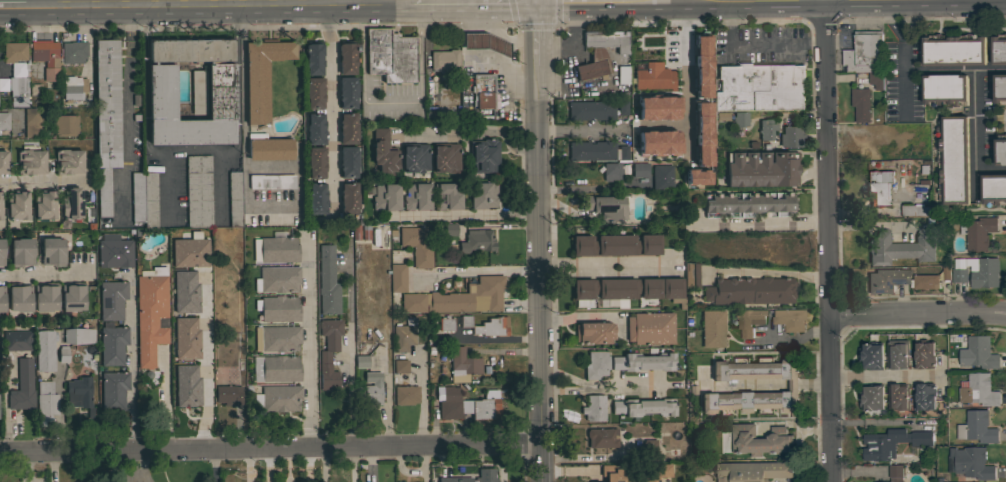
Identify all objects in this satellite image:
road: (942, 2)
road: (989, 2)
road: (840, 3)
road: (124, 4)
road: (145, 4)
road: (189, 4)
road: (657, 4)
road: (748, 4)
road: (235, 5)
road: (291, 5)
road: (303, 5)
road: (353, 5)
road: (418, 5)
road: (456, 5)
road: (535, 5)
road: (813, 6)
road: (12, 8)
road: (215, 9)
road: (578, 10)
road: (471, 11)
traffic signals: (536, 11)
road: (897, 35)
building: (486, 42)
road: (536, 42)
road: (757, 44)
road: (685, 47)
building: (998, 49)
building: (953, 50)
building: (14, 51)
building: (74, 51)
building: (600, 52)
building: (865, 52)
building: (390, 54)
building: (46, 57)
building: (313, 57)
building: (347, 58)
building: (446, 60)
building: (693, 66)
building: (19, 69)
road: (931, 70)
building: (622, 74)
building: (262, 75)
building: (653, 75)
road: (144, 78)
road: (235, 78)
building: (876, 79)
building: (4, 84)
building: (74, 86)
building: (748, 87)
building: (792, 87)
building: (999, 89)
building: (482, 90)
building: (945, 90)
building: (18, 91)
building: (198, 91)
building: (221, 91)
building: (347, 92)
building: (314, 93)
building: (447, 95)
road: (391, 103)
building: (861, 104)
building: (622, 107)
road: (330, 108)
building: (649, 108)
building: (591, 110)
road: (127, 112)
building: (675, 112)
building: (704, 116)
building: (106, 117)
building: (476, 117)
building: (740, 119)
building: (4, 120)
building: (34, 121)
building: (65, 124)
building: (348, 127)
building: (315, 128)
building: (767, 128)
road: (470, 130)
road: (577, 130)
road: (975, 130)
building: (790, 136)
building: (651, 142)
building: (700, 143)
road: (190, 146)
building: (270, 147)
building: (591, 150)
building: (1000, 150)
building: (384, 152)
building: (623, 152)
building: (484, 154)
building: (415, 157)
building: (446, 157)
building: (30, 160)
building: (953, 160)
building: (3, 161)
building: (68, 161)
building: (348, 161)
building: (315, 162)
building: (762, 168)
road: (991, 168)
building: (640, 169)
building: (612, 171)
building: (662, 177)
building: (690, 177)
road: (43, 179)
building: (272, 181)
road: (218, 183)
road: (167, 185)
building: (877, 189)
building: (993, 189)
building: (199, 190)
building: (482, 195)
building: (349, 196)
building: (417, 196)
building: (446, 196)
building: (144, 197)
building: (386, 197)
building: (235, 198)
building: (317, 198)
building: (72, 203)
building: (17, 204)
building: (44, 204)
building: (748, 204)
building: (0, 205)
building: (605, 206)
building: (915, 210)
road: (464, 216)
road: (757, 223)
building: (451, 228)
building: (978, 232)
building: (353, 233)
building: (477, 240)
building: (411, 244)
building: (616, 244)
road: (829, 244)
building: (901, 246)
building: (278, 249)
building: (2, 251)
building: (52, 251)
building: (114, 251)
building: (22, 252)
building: (189, 252)
road: (539, 260)
road: (602, 265)
road: (479, 271)
road: (48, 272)
building: (985, 273)
building: (691, 275)
building: (959, 275)
building: (398, 277)
building: (277, 279)
building: (886, 279)
building: (327, 281)
building: (926, 282)
building: (628, 288)
building: (750, 290)
building: (185, 291)
building: (45, 296)
building: (73, 296)
building: (20, 297)
building: (458, 298)
building: (2, 299)
building: (112, 299)
building: (279, 308)
building: (150, 313)
road: (918, 314)
road: (588, 315)
building: (789, 319)
building: (465, 320)
building: (748, 321)
building: (445, 323)
building: (492, 326)
building: (651, 328)
building: (713, 328)
building: (594, 332)
building: (79, 335)
building: (403, 337)
building: (186, 338)
building: (280, 338)
road: (790, 338)
building: (17, 340)
building: (113, 344)
road: (307, 344)
road: (349, 346)
building: (45, 350)
building: (329, 352)
building: (978, 353)
building: (63, 354)
building: (871, 354)
building: (897, 354)
building: (924, 355)
road: (204, 361)
building: (361, 361)
building: (643, 361)
road: (132, 362)
building: (463, 362)
building: (596, 364)
building: (401, 366)
building: (281, 368)
road: (883, 375)
road: (588, 383)
road: (625, 384)
building: (186, 385)
road: (814, 385)
building: (22, 386)
road: (750, 386)
road: (793, 386)
building: (370, 388)
building: (793, 388)
building: (113, 390)
building: (979, 390)
building: (80, 394)
building: (229, 394)
building: (406, 394)
building: (924, 396)
building: (280, 397)
building: (871, 397)
building: (898, 397)
building: (45, 402)
building: (468, 405)
building: (644, 406)
building: (594, 407)
building: (977, 428)
building: (637, 430)
building: (602, 437)
building: (759, 440)
building: (892, 443)
road: (271, 449)
building: (646, 450)
road: (591, 456)
building: (970, 463)
road: (543, 464)
road: (117, 466)
road: (211, 466)
building: (752, 471)
building: (895, 473)
building: (484, 475)
building: (603, 476)
building: (454, 479)

